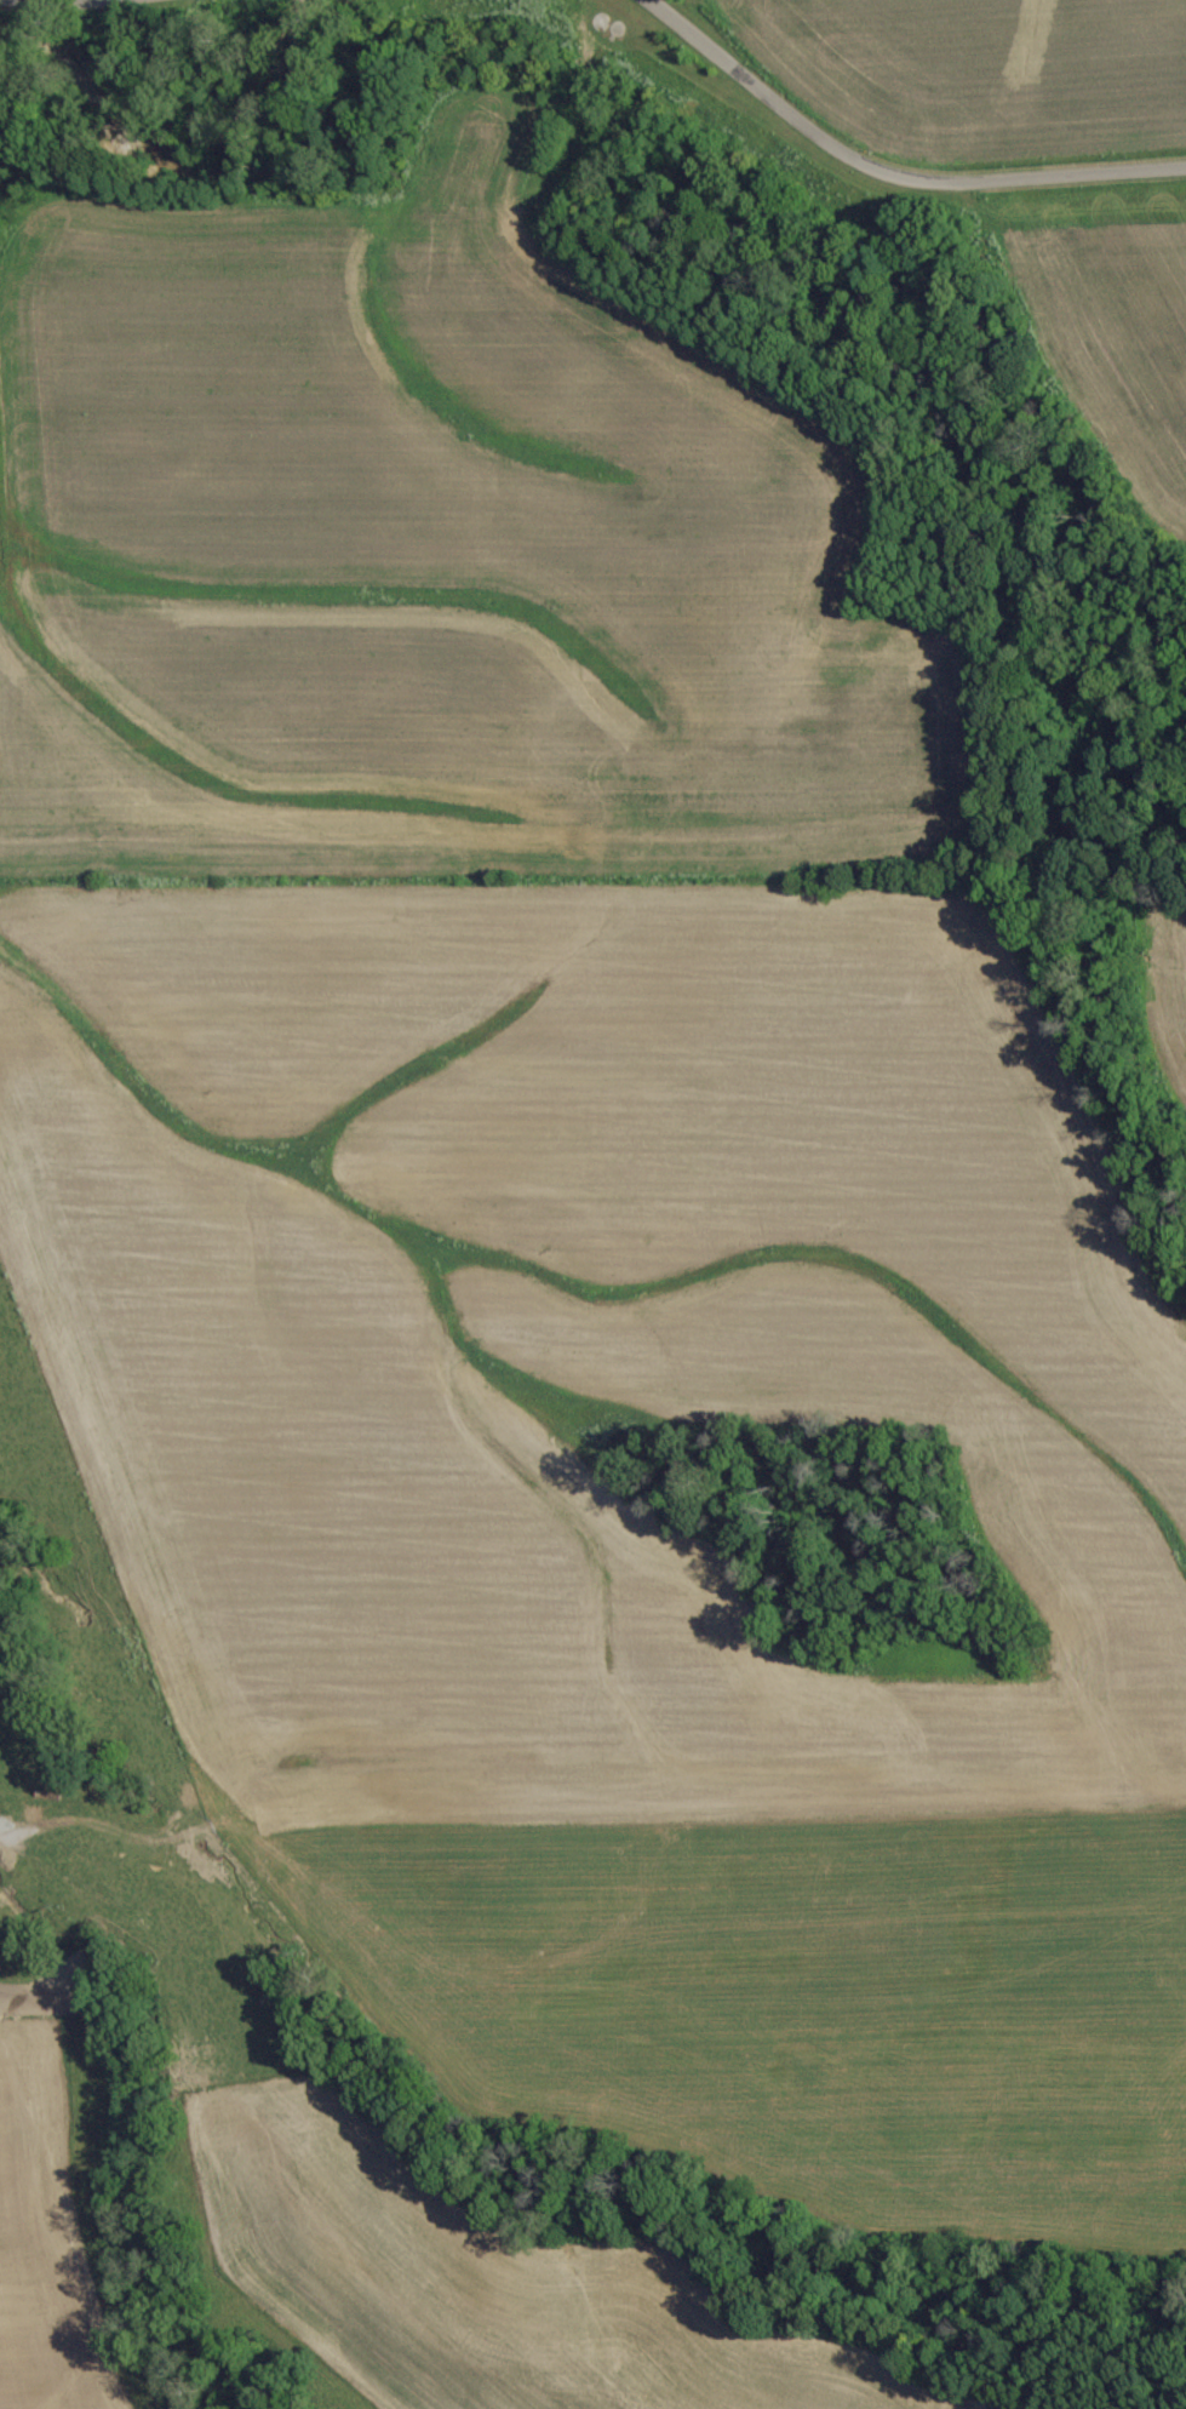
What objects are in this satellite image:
road: (952, 144)

